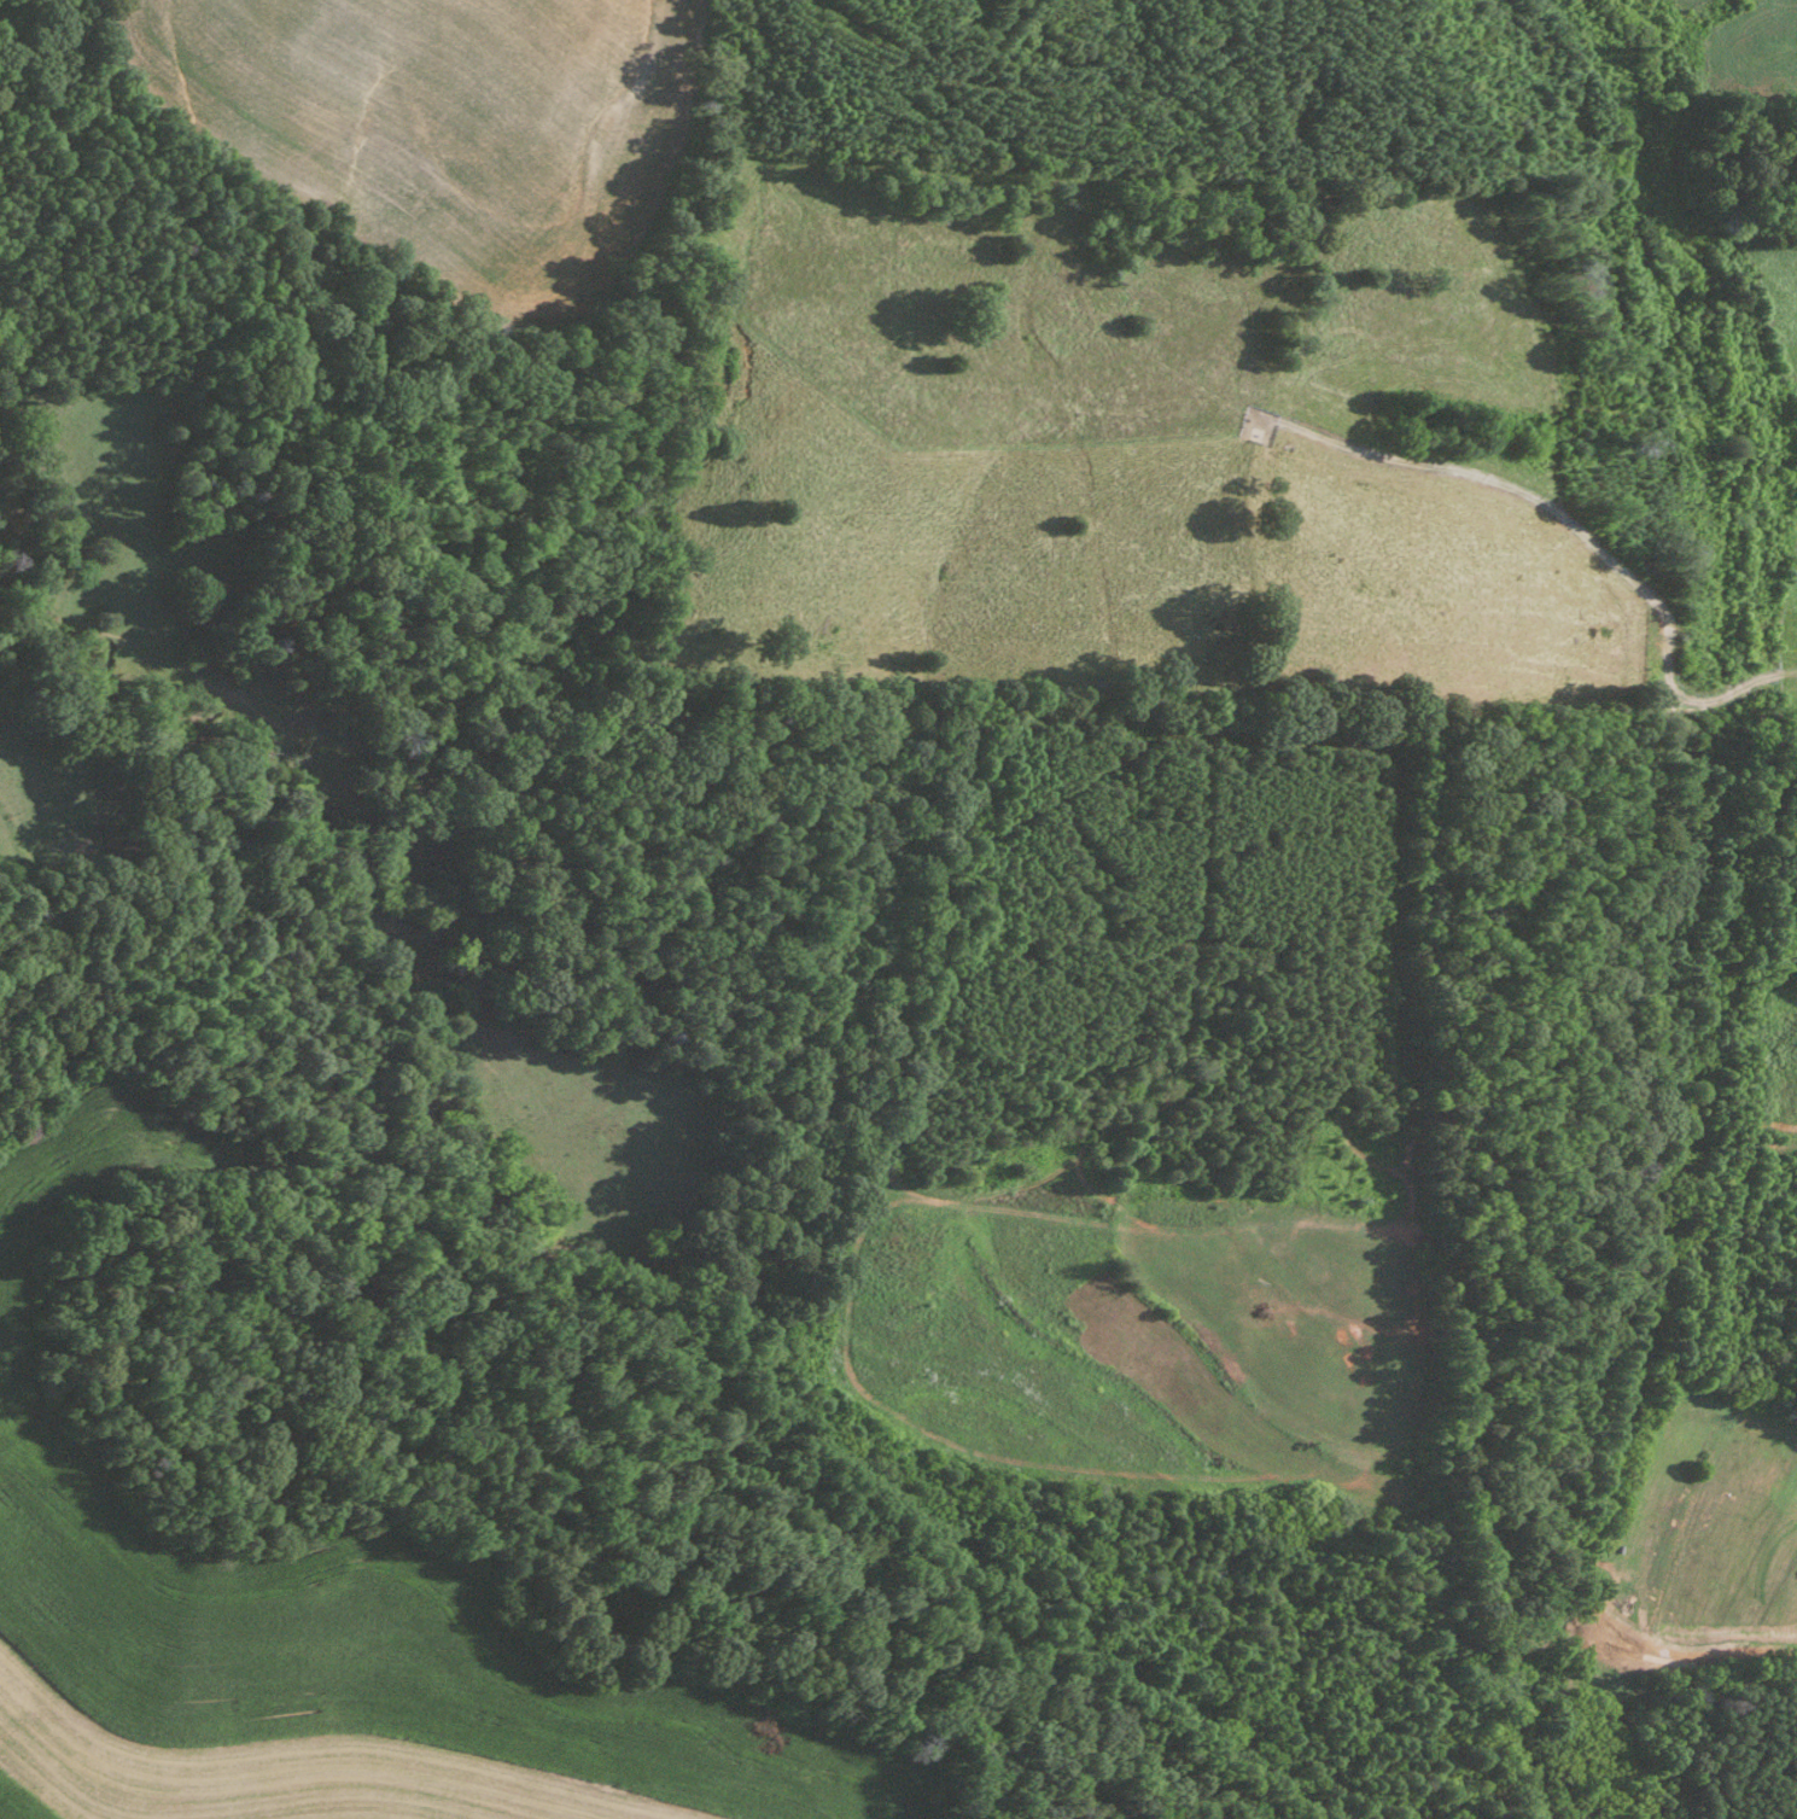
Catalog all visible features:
road: (962, 235)

